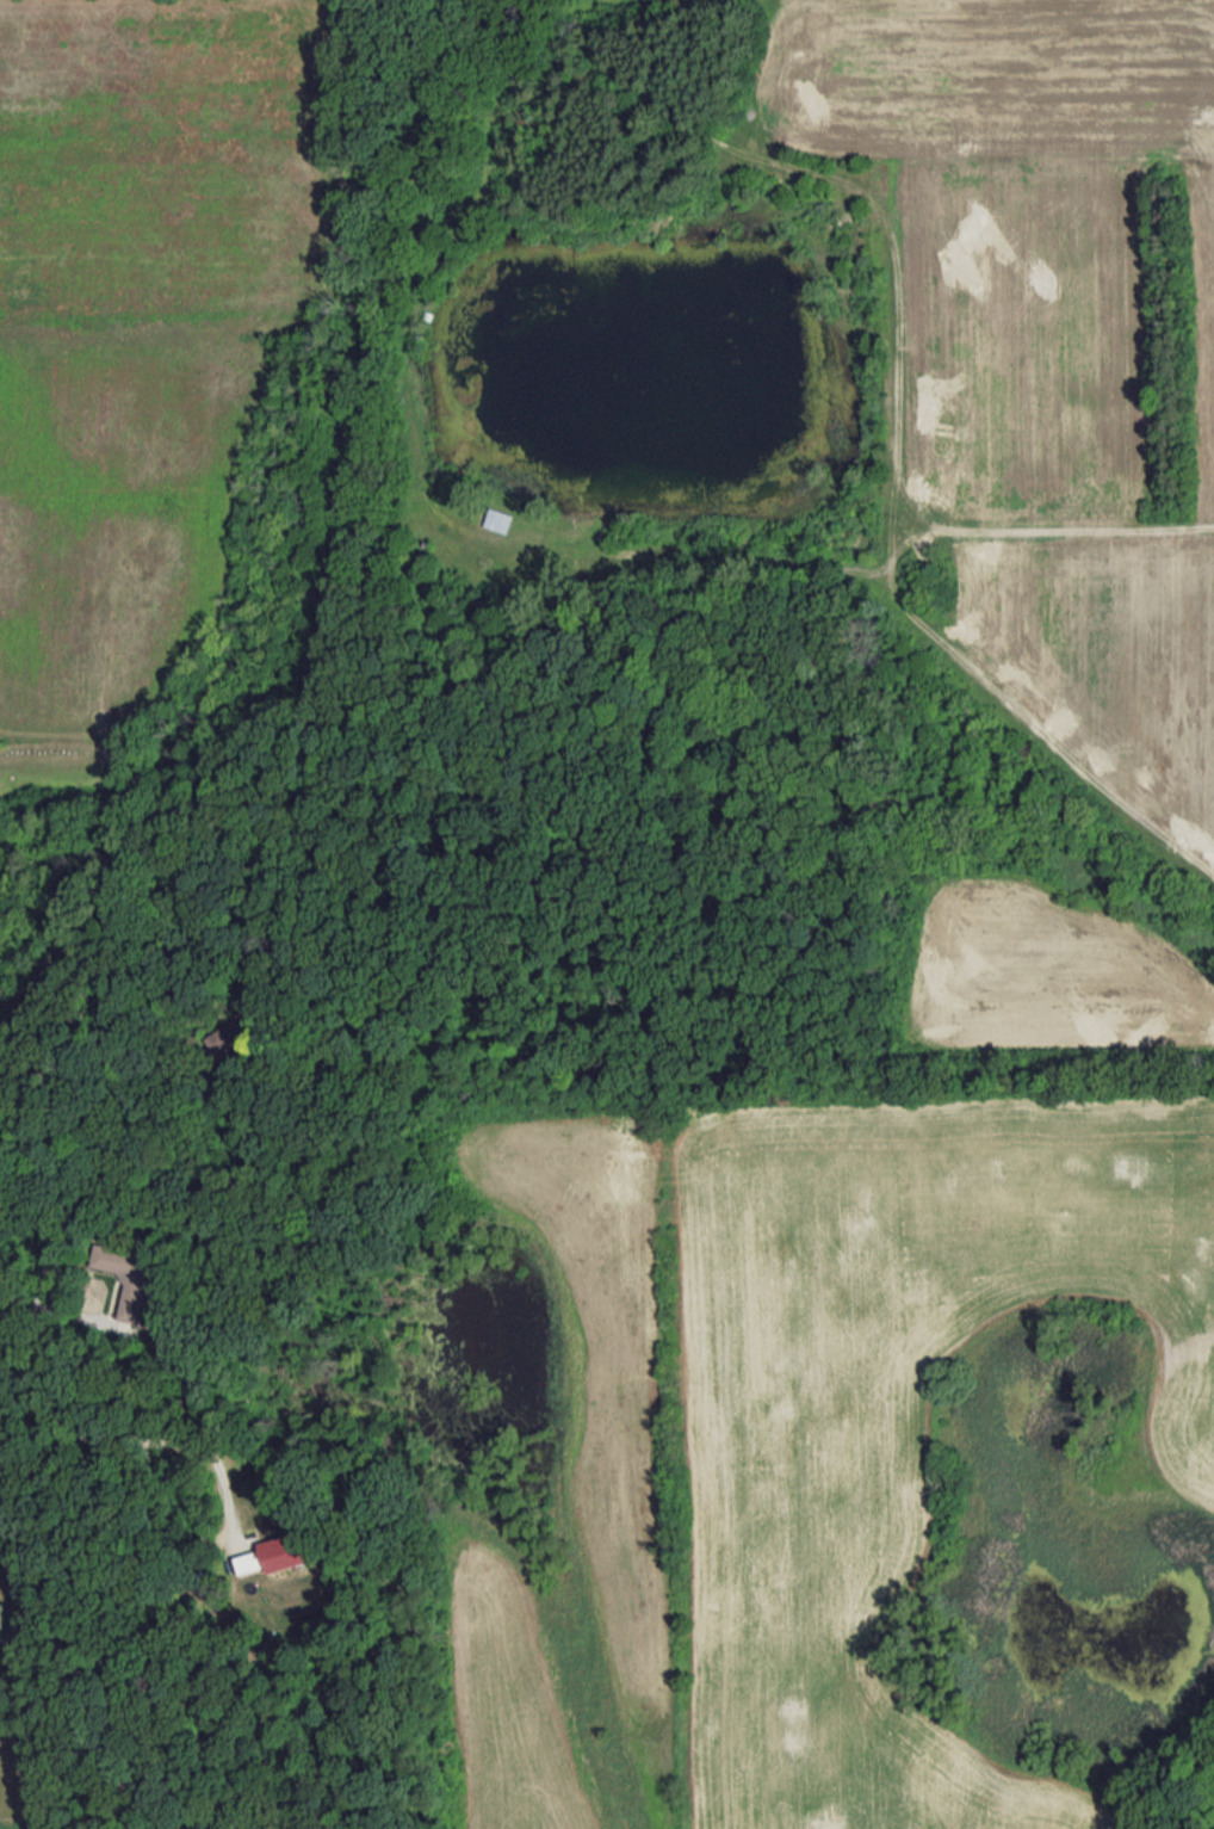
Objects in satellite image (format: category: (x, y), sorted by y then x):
building: (497, 519)
road: (120, 1019)
building: (224, 1040)
road: (47, 1238)
building: (131, 1277)
road: (150, 1435)
building: (275, 1555)

